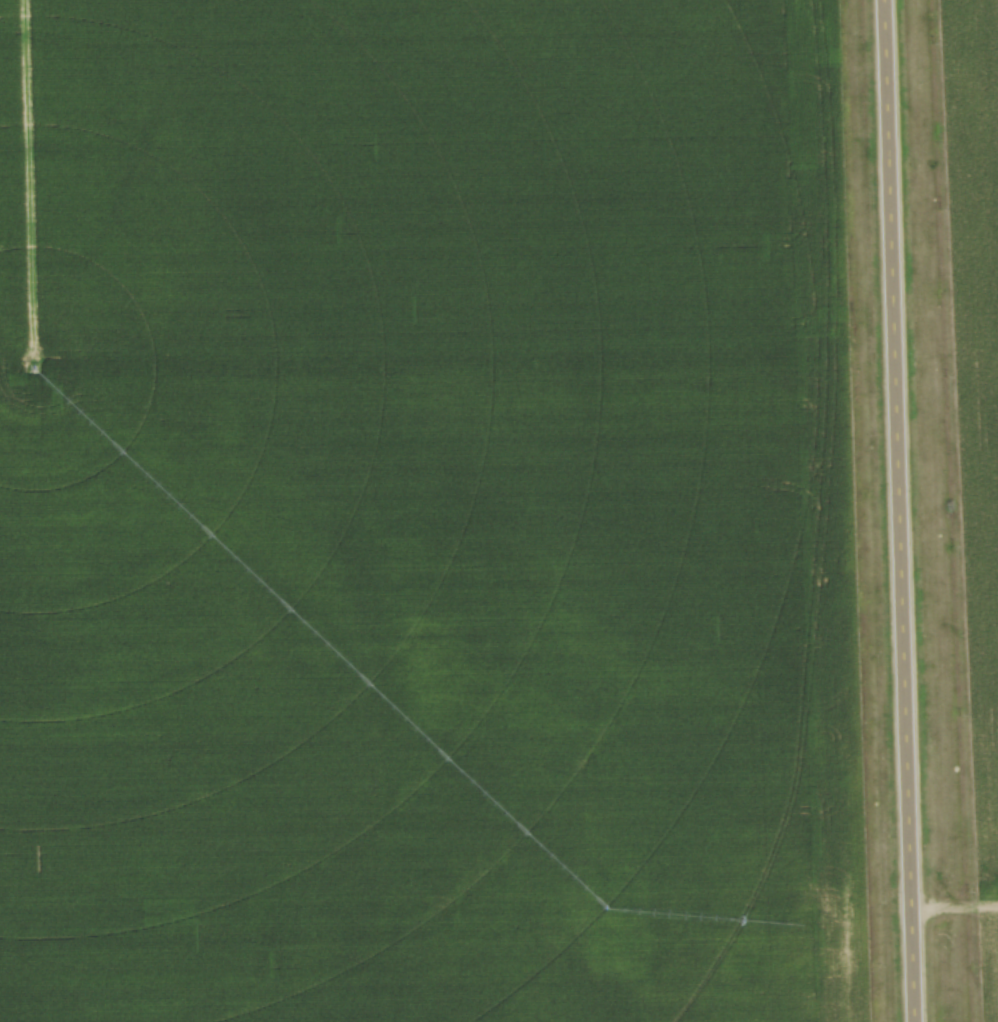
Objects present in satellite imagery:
road: (899, 510)

